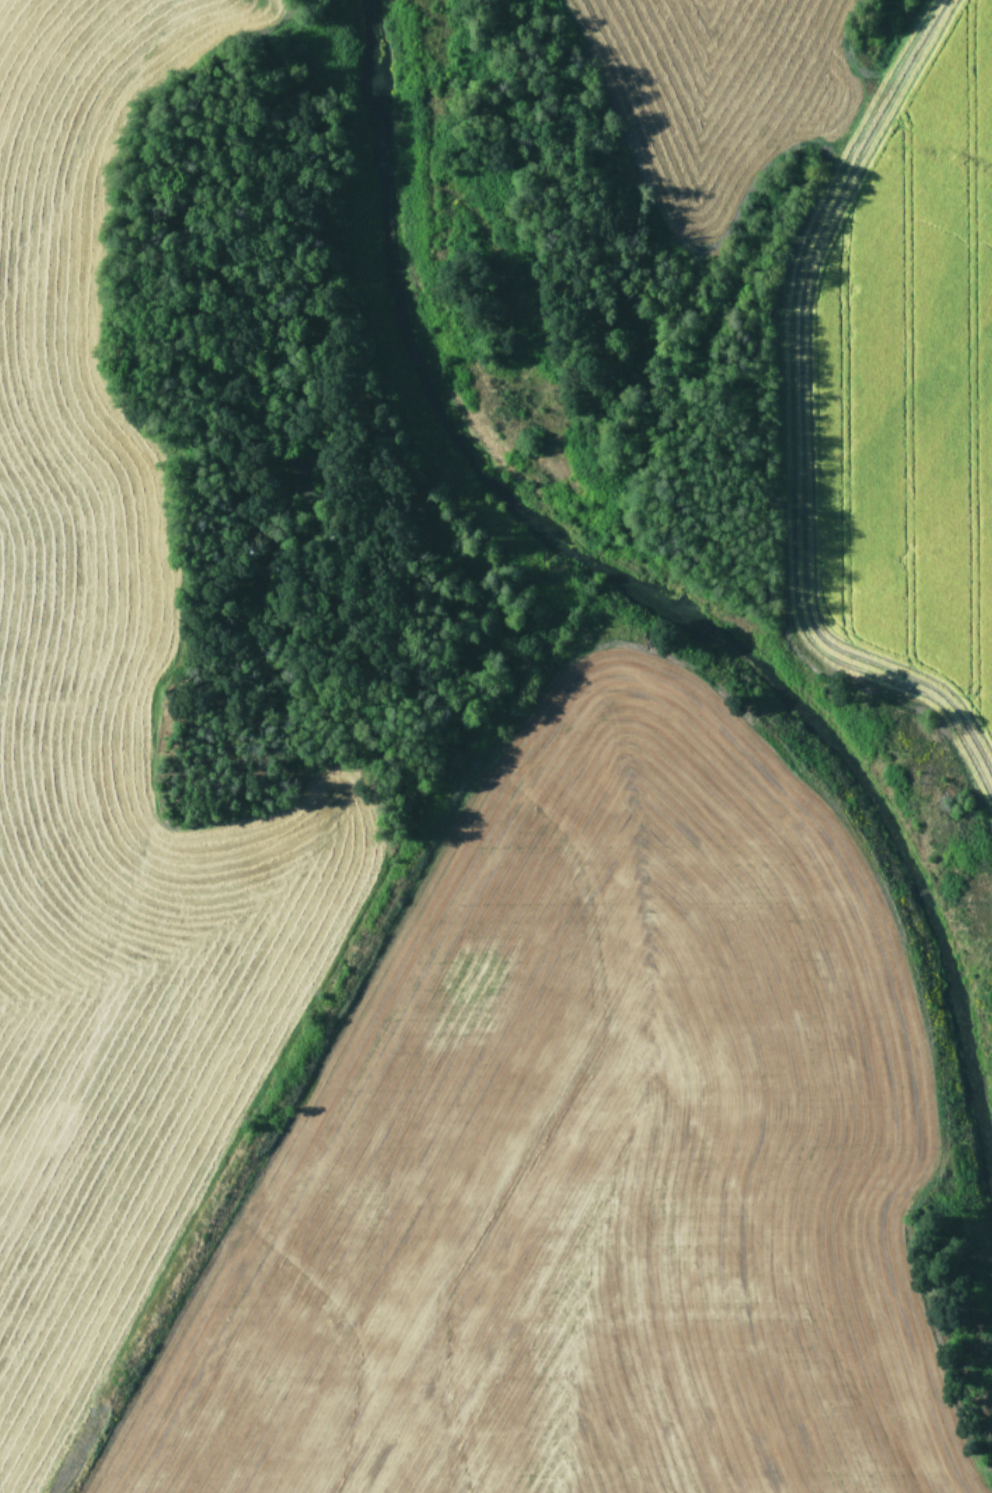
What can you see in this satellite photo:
crop: (836, 316)
crop: (395, 1033)

